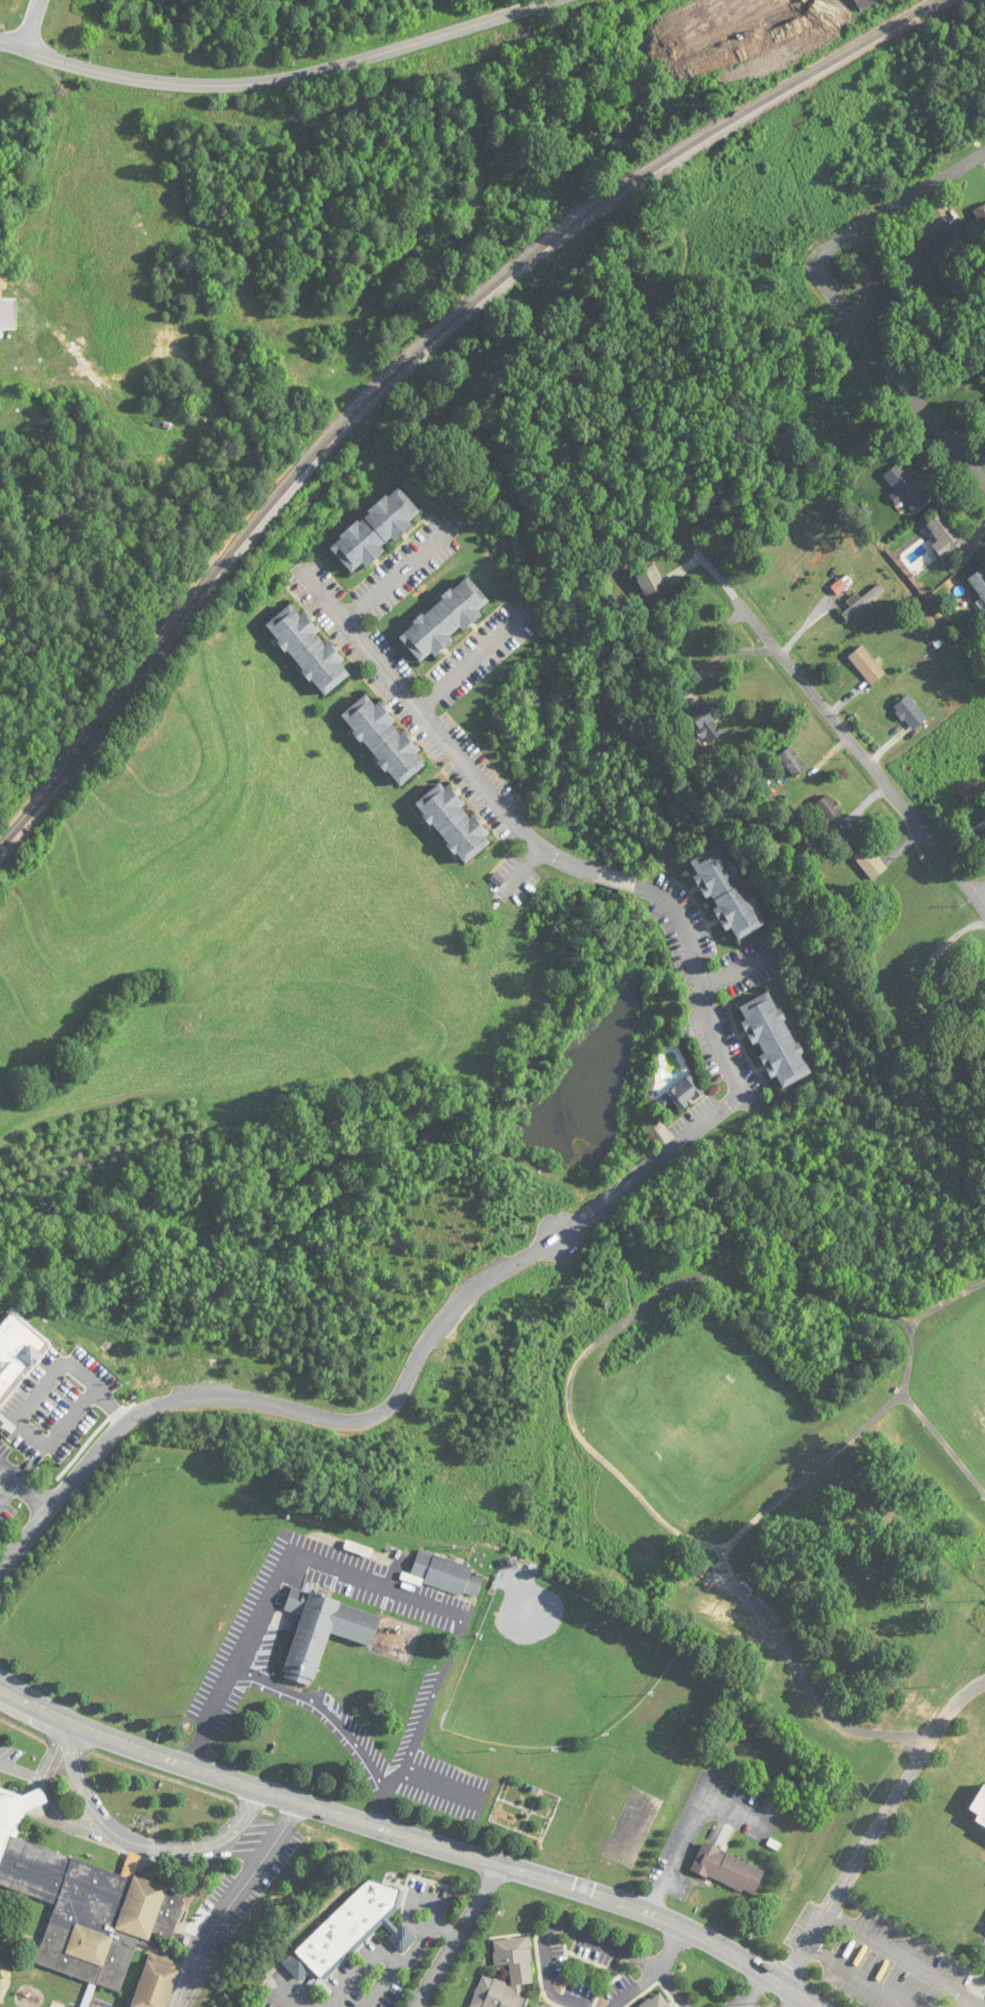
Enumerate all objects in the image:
building: (863, 3)
road: (32, 24)
road: (276, 79)
road: (897, 205)
building: (980, 215)
building: (945, 241)
building: (7, 314)
railway: (413, 357)
road: (894, 369)
building: (983, 378)
building: (905, 488)
building: (375, 532)
building: (945, 537)
road: (395, 579)
building: (650, 581)
building: (979, 583)
building: (444, 621)
building: (309, 651)
road: (724, 655)
road: (468, 663)
building: (866, 665)
building: (910, 713)
building: (705, 722)
road: (839, 724)
building: (384, 741)
building: (792, 762)
building: (972, 791)
building: (829, 808)
building: (453, 823)
building: (977, 832)
building: (870, 862)
building: (726, 893)
road: (982, 895)
building: (963, 998)
building: (773, 1040)
building: (685, 1093)
road: (648, 1167)
road: (947, 1300)
road: (18, 1409)
road: (921, 1417)
road: (573, 1427)
road: (0, 1491)
road: (18, 1507)
building: (358, 1548)
building: (444, 1572)
road: (283, 1576)
building: (318, 1628)
road: (811, 1692)
road: (22, 1770)
road: (381, 1780)
road: (48, 1798)
road: (383, 1806)
building: (980, 1808)
road: (694, 1825)
road: (877, 1829)
road: (410, 1833)
road: (137, 1843)
building: (723, 1868)
road: (232, 1898)
building: (92, 1909)
road: (561, 1929)
building: (347, 1932)
road: (459, 1935)
road: (672, 1951)
road: (907, 1955)
building: (521, 1971)
road: (857, 1977)
road: (641, 1989)
road: (750, 1990)
road: (794, 2002)
road: (970, 2002)
building: (658, 2003)

